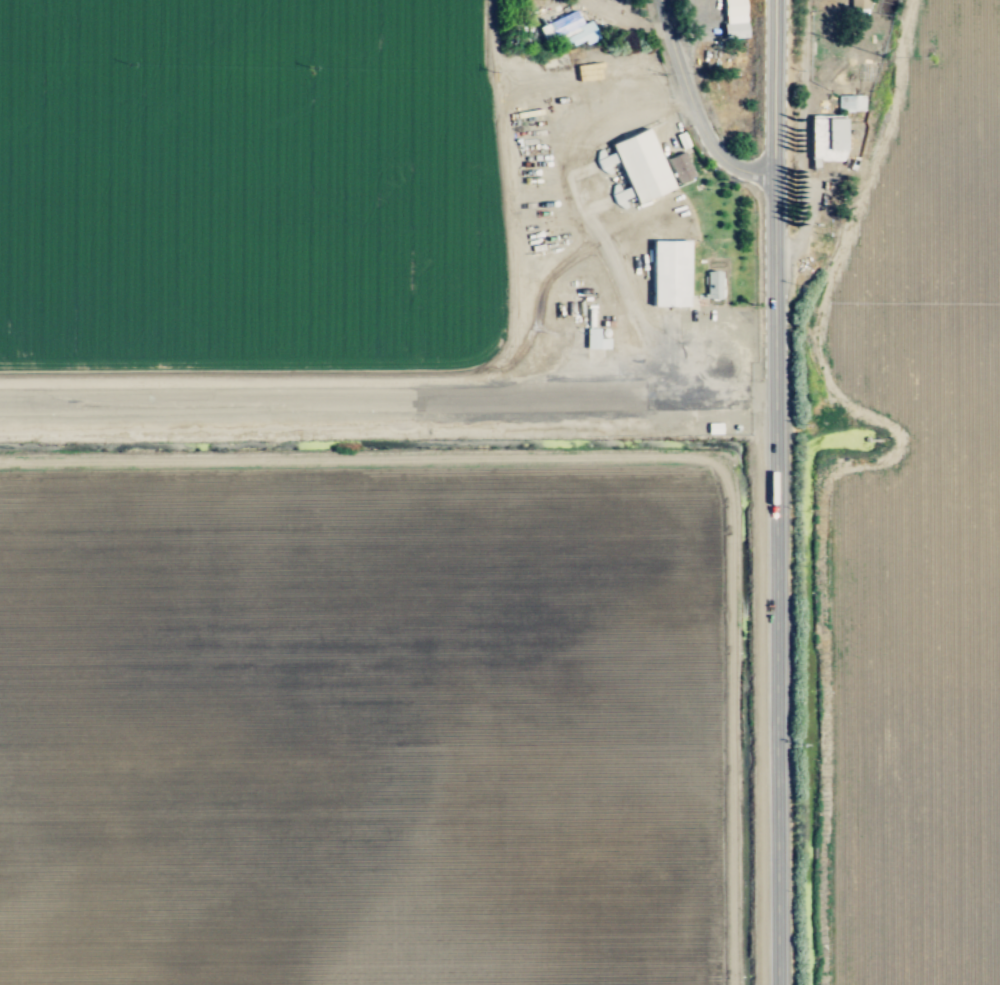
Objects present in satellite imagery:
road: (592, 4)
road: (599, 4)
building: (857, 4)
building: (733, 7)
road: (630, 19)
building: (565, 29)
building: (733, 31)
building: (850, 104)
road: (691, 109)
road: (800, 135)
building: (825, 140)
building: (634, 169)
building: (678, 169)
road: (573, 209)
building: (668, 274)
building: (712, 287)
building: (594, 339)
road: (387, 401)
building: (712, 429)
road: (874, 462)
road: (775, 492)
crop: (458, 546)

